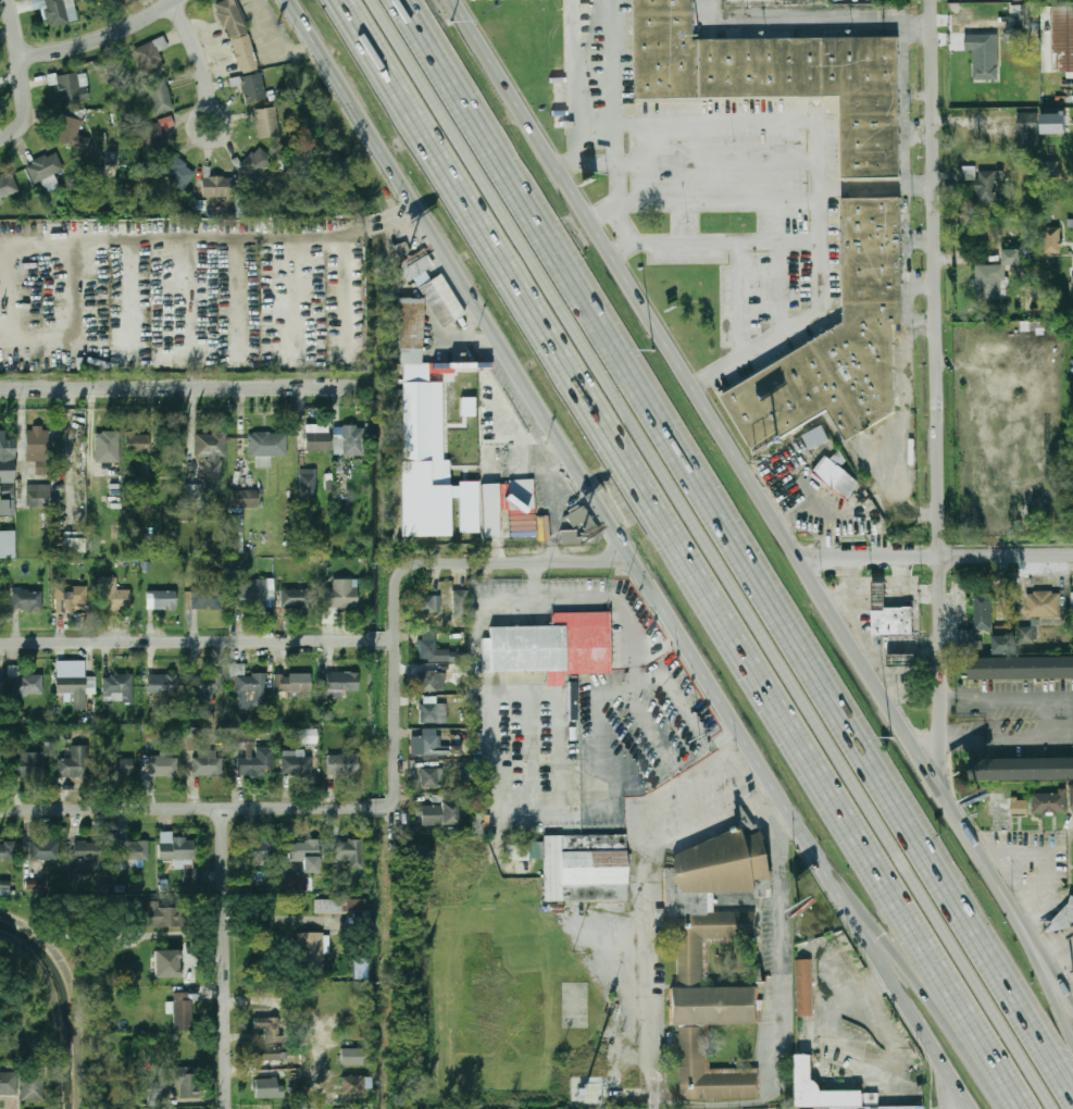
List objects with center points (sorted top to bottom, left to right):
building: (745, 0)
building: (57, 11)
road: (793, 18)
road: (916, 20)
road: (15, 29)
building: (237, 35)
road: (103, 38)
building: (1057, 38)
building: (987, 50)
building: (149, 59)
road: (203, 70)
building: (779, 76)
road: (575, 79)
building: (73, 87)
building: (252, 87)
road: (918, 92)
building: (160, 95)
road: (904, 103)
road: (26, 107)
building: (266, 122)
building: (1053, 122)
road: (665, 125)
building: (1026, 129)
building: (155, 132)
building: (70, 133)
road: (918, 134)
road: (611, 144)
road: (704, 160)
building: (110, 164)
building: (254, 164)
building: (1049, 169)
building: (45, 171)
building: (177, 173)
building: (984, 184)
building: (7, 185)
building: (217, 186)
road: (874, 187)
building: (240, 205)
road: (816, 208)
road: (253, 236)
building: (1052, 239)
road: (712, 241)
building: (415, 265)
building: (995, 274)
building: (1071, 286)
road: (292, 290)
road: (130, 292)
road: (342, 292)
road: (237, 296)
road: (737, 298)
building: (446, 300)
building: (840, 341)
building: (473, 366)
road: (935, 384)
road: (194, 385)
building: (467, 407)
road: (719, 427)
building: (317, 437)
building: (816, 437)
building: (349, 440)
building: (137, 443)
building: (431, 443)
building: (107, 447)
building: (266, 447)
building: (38, 448)
building: (211, 452)
building: (835, 474)
building: (7, 475)
building: (308, 483)
flagpole: (837, 486)
building: (797, 490)
building: (38, 495)
building: (197, 496)
building: (241, 498)
building: (578, 527)
building: (235, 534)
road: (737, 543)
building: (7, 544)
building: (74, 545)
road: (628, 553)
road: (715, 553)
road: (684, 554)
road: (935, 557)
road: (542, 562)
road: (901, 568)
road: (852, 572)
road: (881, 578)
building: (254, 594)
building: (341, 594)
building: (879, 594)
building: (112, 595)
building: (208, 595)
building: (68, 597)
road: (571, 597)
building: (295, 598)
road: (619, 599)
building: (27, 600)
building: (161, 600)
building: (1072, 601)
building: (431, 602)
building: (460, 603)
building: (1043, 603)
building: (893, 621)
building: (978, 622)
building: (1026, 635)
building: (427, 640)
road: (199, 641)
road: (477, 643)
building: (1005, 644)
building: (553, 646)
road: (635, 655)
building: (904, 659)
building: (1022, 668)
road: (398, 669)
building: (74, 682)
building: (432, 682)
building: (161, 683)
building: (291, 683)
building: (340, 683)
building: (203, 686)
building: (249, 687)
building: (117, 688)
road: (672, 690)
road: (1011, 695)
building: (573, 707)
building: (433, 711)
building: (309, 735)
building: (192, 738)
building: (427, 744)
road: (1006, 746)
building: (76, 762)
building: (207, 763)
building: (257, 763)
building: (296, 763)
building: (342, 764)
building: (29, 765)
building: (116, 767)
building: (162, 767)
building: (1021, 768)
building: (431, 777)
road: (612, 784)
building: (1072, 795)
building: (1050, 803)
building: (1020, 808)
road: (192, 810)
building: (440, 813)
building: (45, 849)
building: (176, 850)
building: (5, 851)
building: (133, 851)
building: (259, 851)
building: (526, 851)
building: (348, 852)
building: (90, 853)
building: (305, 855)
building: (585, 868)
building: (254, 876)
road: (994, 879)
building: (296, 884)
building: (3, 887)
building: (341, 906)
building: (1065, 913)
building: (163, 915)
road: (778, 930)
road: (1027, 931)
building: (312, 949)
road: (226, 959)
building: (690, 961)
building: (166, 963)
road: (907, 969)
road: (1040, 971)
building: (806, 985)
road: (649, 986)
river: (65, 1001)
road: (871, 1007)
building: (180, 1010)
building: (269, 1029)
building: (264, 1055)
building: (351, 1056)
building: (180, 1080)
building: (807, 1082)
building: (9, 1083)
building: (32, 1084)
building: (354, 1084)
building: (267, 1088)
road: (947, 1093)
building: (154, 1096)

